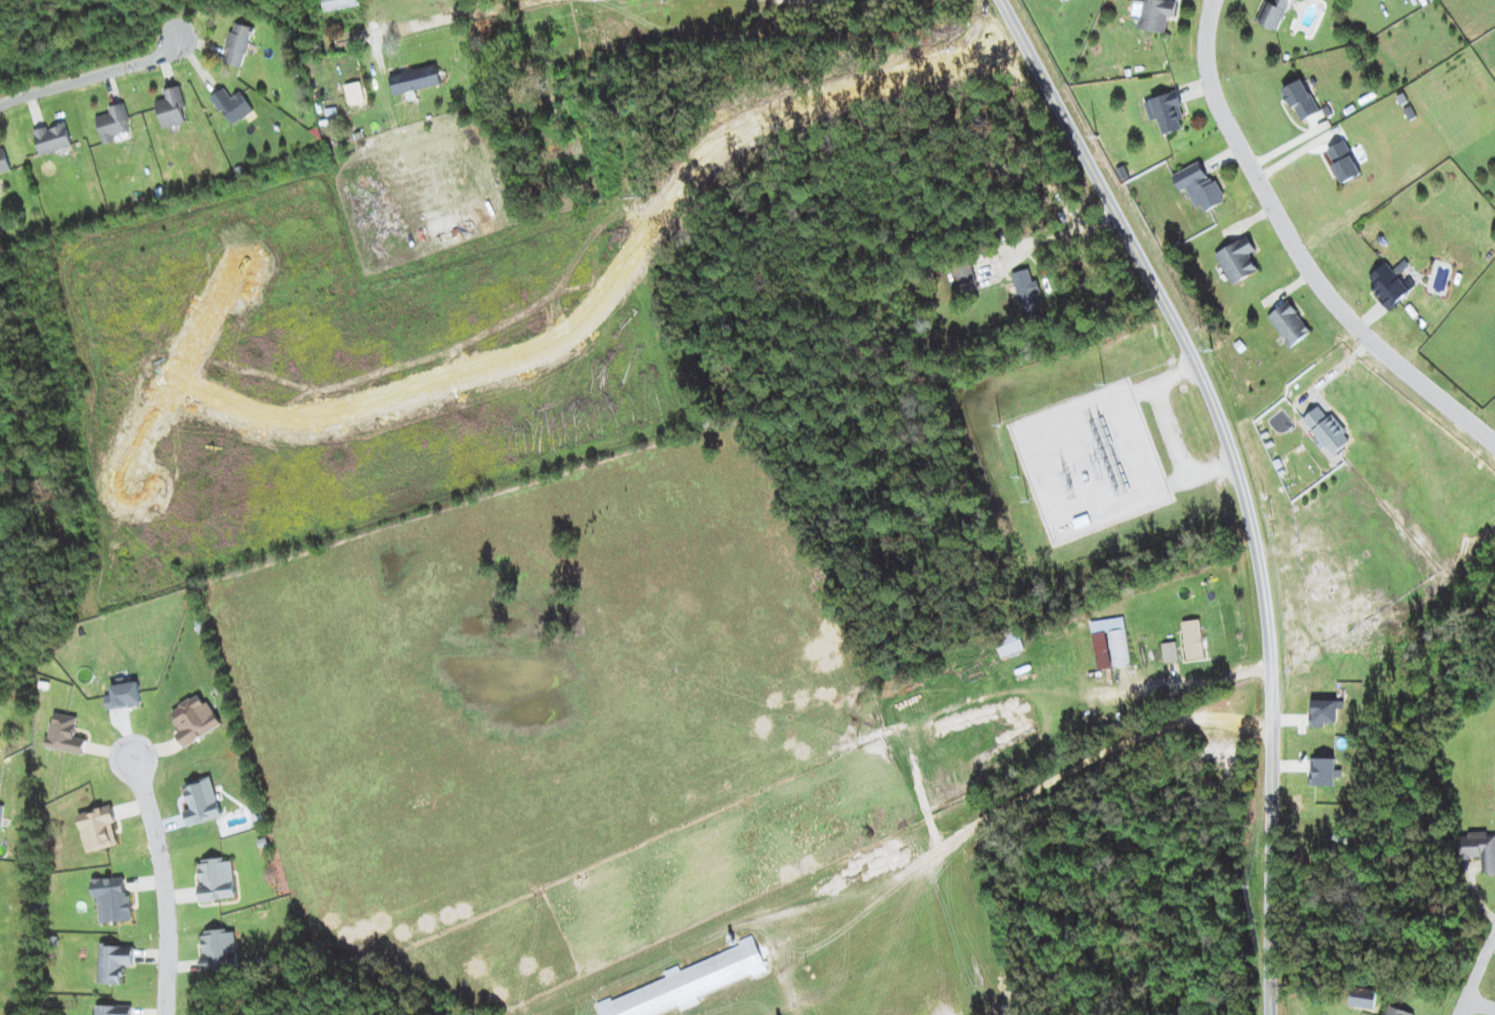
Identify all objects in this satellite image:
building: (1065, 0)
building: (340, 4)
building: (1156, 13)
building: (1275, 13)
road: (463, 15)
building: (603, 38)
building: (238, 44)
road: (94, 74)
building: (415, 79)
building: (1301, 99)
building: (233, 105)
building: (172, 107)
building: (1168, 111)
building: (114, 122)
building: (53, 138)
building: (4, 160)
building: (1344, 161)
building: (1199, 185)
road: (1300, 253)
building: (1238, 259)
building: (964, 272)
road: (617, 275)
building: (1390, 285)
building: (1027, 290)
building: (1289, 323)
road: (178, 372)
building: (1330, 431)
power substation: (1091, 460)
road: (1239, 480)
building: (1193, 638)
building: (1009, 641)
building: (1111, 642)
building: (1170, 651)
building: (124, 695)
building: (1323, 712)
building: (194, 719)
building: (65, 733)
building: (202, 801)
building: (1, 814)
building: (98, 828)
building: (1480, 848)
building: (217, 879)
road: (162, 884)
building: (112, 899)
building: (219, 949)
building: (114, 962)
road: (1476, 977)
building: (689, 982)
building: (1362, 996)
road: (1481, 1006)
building: (113, 1010)
building: (1393, 1011)

